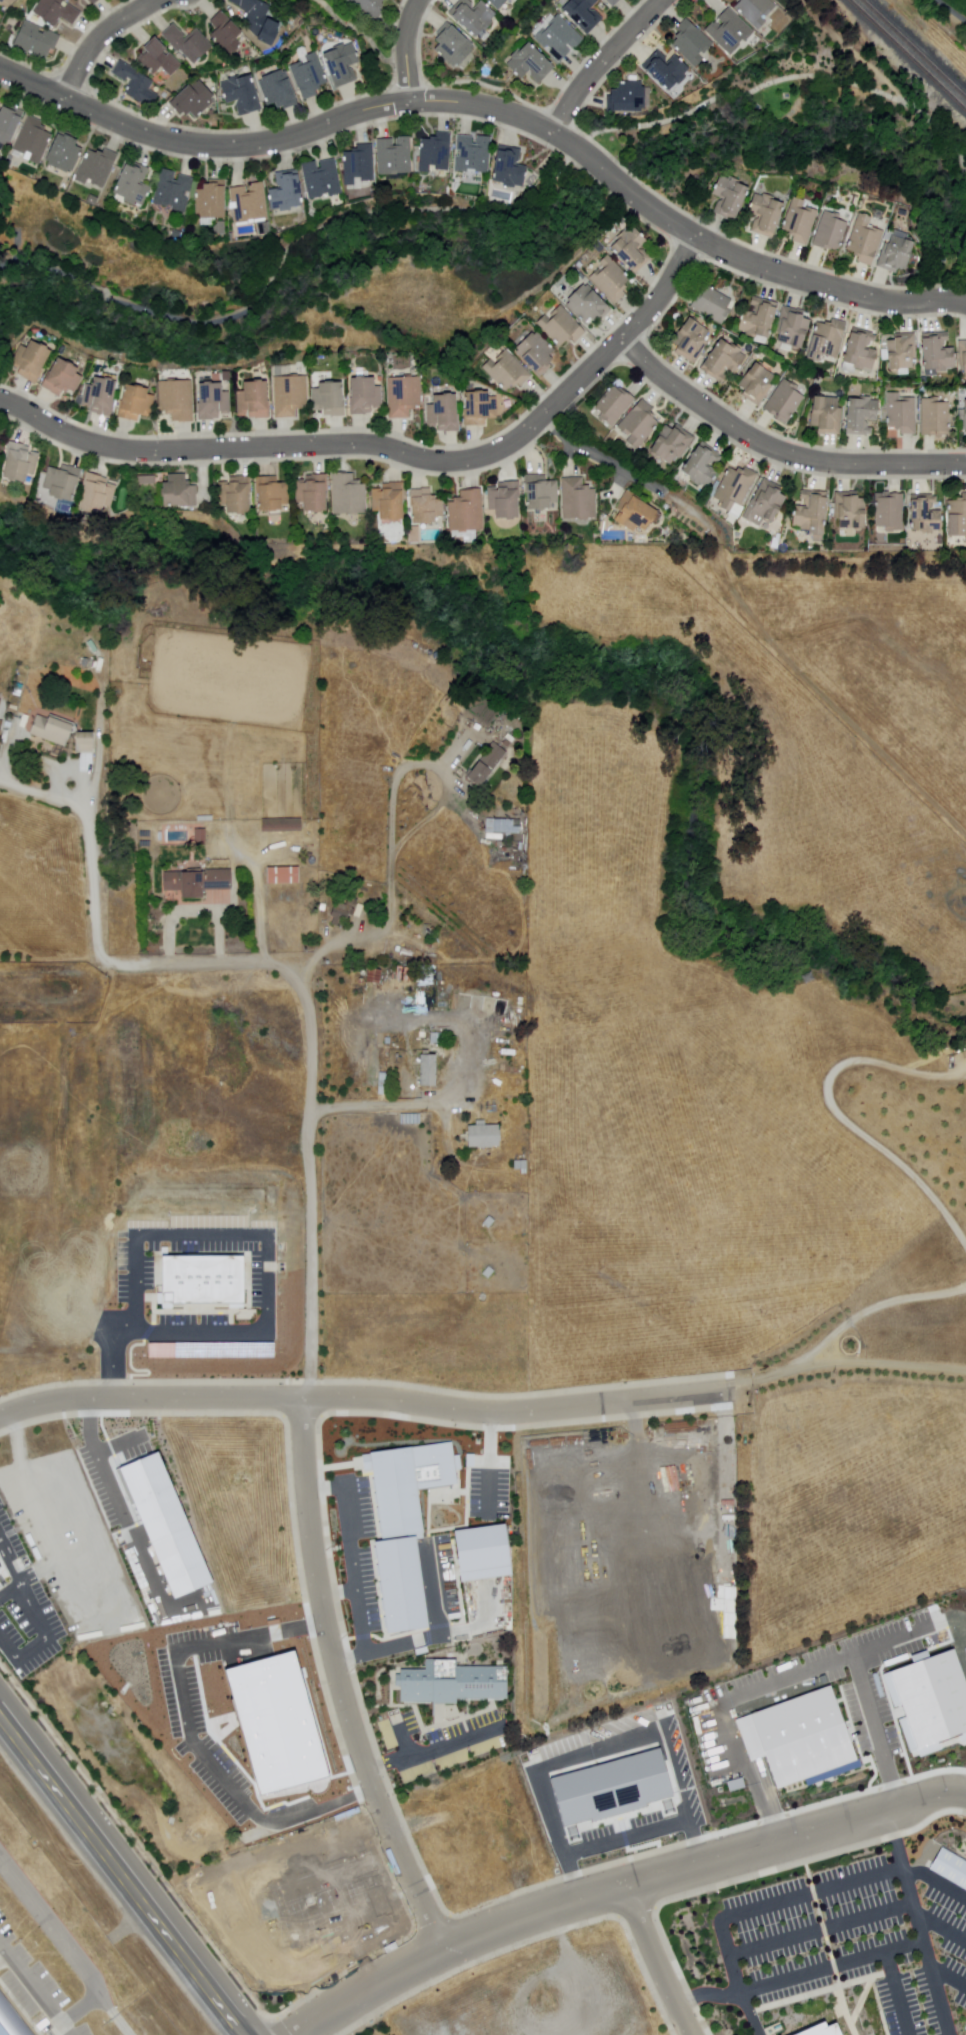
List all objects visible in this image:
building: (4, 1)
building: (96, 2)
building: (612, 3)
building: (498, 4)
building: (368, 8)
building: (755, 11)
building: (59, 13)
park: (949, 13)
road: (949, 13)
building: (582, 14)
building: (260, 17)
building: (474, 19)
building: (229, 31)
building: (728, 32)
road: (367, 34)
road: (102, 38)
building: (558, 39)
building: (39, 41)
building: (189, 44)
building: (691, 44)
building: (453, 47)
road: (842, 48)
railway: (914, 48)
road: (408, 50)
railway: (907, 55)
building: (159, 57)
road: (605, 61)
building: (344, 63)
building: (530, 64)
building: (665, 70)
building: (309, 77)
road: (790, 79)
building: (137, 85)
building: (281, 90)
building: (244, 94)
park: (782, 96)
building: (196, 98)
building: (626, 98)
road: (496, 110)
building: (10, 125)
building: (36, 140)
building: (68, 152)
building: (439, 152)
building: (476, 154)
building: (399, 156)
building: (362, 165)
building: (101, 167)
building: (512, 168)
building: (325, 178)
building: (137, 184)
building: (65, 190)
building: (177, 190)
building: (290, 192)
building: (731, 196)
building: (96, 200)
building: (215, 201)
building: (252, 202)
building: (766, 214)
building: (801, 222)
building: (225, 228)
building: (268, 228)
building: (831, 232)
building: (180, 235)
building: (868, 240)
road: (291, 247)
building: (632, 249)
building: (897, 253)
road: (574, 254)
road: (933, 265)
building: (609, 279)
building: (711, 304)
building: (587, 305)
building: (758, 320)
building: (791, 326)
building: (561, 327)
building: (826, 338)
building: (689, 340)
building: (860, 349)
building: (902, 350)
building: (535, 352)
building: (936, 352)
building: (962, 356)
building: (721, 360)
building: (28, 361)
building: (506, 371)
building: (61, 378)
building: (755, 383)
building: (99, 395)
building: (289, 395)
building: (364, 395)
building: (404, 396)
building: (328, 398)
building: (176, 399)
building: (252, 399)
building: (211, 400)
building: (133, 402)
building: (784, 403)
building: (614, 405)
building: (479, 407)
building: (442, 411)
building: (902, 414)
building: (825, 415)
building: (859, 415)
building: (965, 415)
building: (935, 417)
building: (638, 423)
building: (671, 444)
road: (778, 448)
road: (394, 450)
building: (0, 457)
road: (602, 460)
building: (23, 462)
building: (701, 464)
building: (149, 481)
building: (66, 483)
building: (734, 487)
building: (183, 492)
building: (540, 492)
building: (271, 493)
building: (311, 493)
building: (100, 494)
building: (234, 494)
building: (348, 495)
building: (504, 499)
building: (767, 499)
building: (578, 500)
building: (388, 501)
building: (424, 506)
road: (692, 510)
building: (850, 510)
building: (467, 511)
building: (633, 512)
building: (890, 513)
building: (811, 514)
building: (925, 516)
building: (957, 516)
building: (94, 664)
building: (2, 703)
building: (52, 728)
building: (85, 741)
building: (486, 764)
building: (282, 824)
building: (501, 825)
building: (145, 834)
building: (202, 834)
road: (393, 834)
building: (146, 843)
road: (90, 862)
building: (284, 874)
building: (199, 881)
road: (261, 909)
building: (344, 909)
road: (197, 914)
building: (374, 976)
building: (422, 1034)
building: (437, 1037)
building: (429, 1071)
road: (312, 1083)
building: (380, 1083)
road: (422, 1105)
road: (836, 1113)
building: (408, 1119)
building: (484, 1135)
building: (210, 1279)
road: (873, 1309)
parking lot: (180, 1314)
road: (847, 1363)
road: (364, 1397)
building: (677, 1474)
building: (407, 1482)
building: (640, 1515)
building: (161, 1523)
road: (4, 1550)
building: (483, 1552)
building: (403, 1585)
parking lot: (442, 1600)
parking lot: (25, 1616)
road: (335, 1678)
building: (450, 1683)
building: (927, 1702)
building: (798, 1735)
parking lot: (439, 1743)
building: (607, 1783)
building: (950, 1867)
road: (126, 1868)
road: (902, 1876)
road: (934, 1880)
road: (622, 1888)
road: (771, 1900)
road: (818, 1927)
road: (940, 1929)
parking lot: (859, 1939)
road: (56, 1940)
road: (876, 1954)
airport: (59, 1955)
road: (658, 1961)
parking lot: (35, 1971)
road: (948, 1979)
road: (706, 1992)
road: (31, 1994)
road: (895, 1994)
road: (77, 2010)
road: (748, 2013)
airport hangar: (12, 2019)
building: (12, 2019)
road: (121, 2024)
building: (822, 2029)

